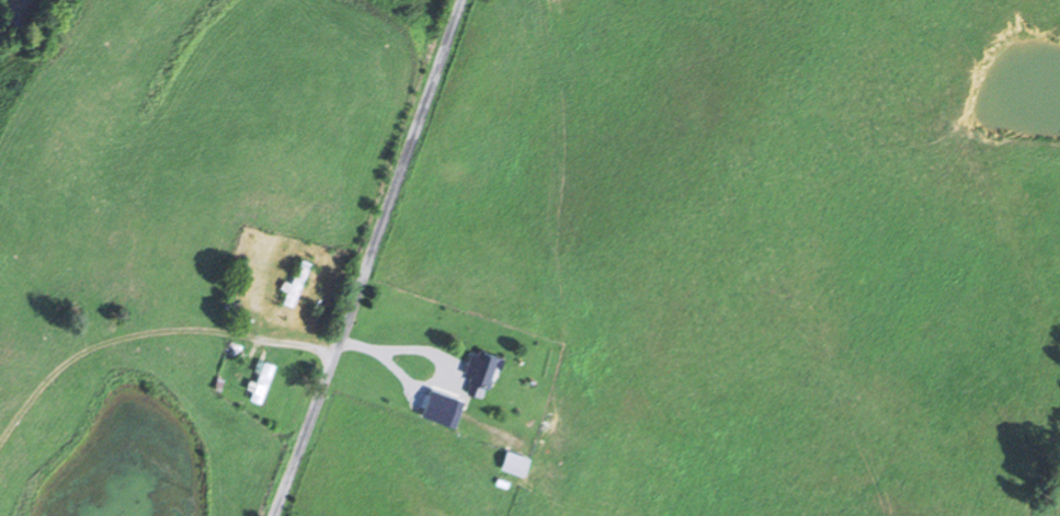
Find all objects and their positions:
road: (166, 239)
road: (374, 257)

